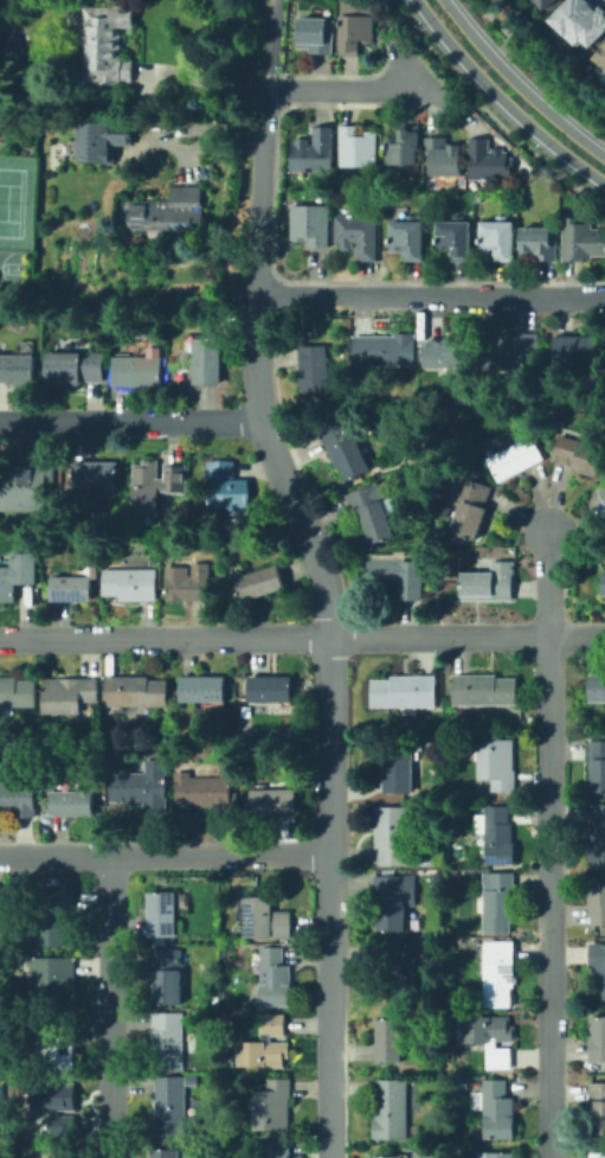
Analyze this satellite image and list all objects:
building: (543, 2)
building: (581, 23)
building: (355, 32)
building: (317, 33)
building: (109, 45)
road: (273, 45)
park: (11, 47)
building: (601, 56)
road: (417, 75)
road: (201, 81)
road: (517, 83)
road: (461, 89)
road: (341, 90)
road: (501, 100)
building: (104, 140)
building: (359, 147)
building: (406, 149)
building: (315, 152)
building: (444, 158)
building: (487, 160)
road: (258, 194)
park: (9, 200)
building: (170, 212)
building: (310, 224)
building: (358, 236)
building: (410, 236)
building: (456, 237)
building: (498, 237)
building: (583, 239)
building: (540, 242)
park: (13, 268)
road: (430, 295)
building: (385, 347)
building: (513, 350)
building: (577, 350)
building: (446, 354)
building: (208, 362)
building: (315, 366)
building: (77, 367)
building: (17, 370)
building: (139, 370)
road: (130, 421)
building: (345, 452)
building: (578, 454)
building: (516, 460)
building: (99, 475)
building: (152, 486)
building: (227, 487)
building: (22, 488)
building: (604, 495)
building: (474, 508)
building: (373, 512)
building: (98, 569)
building: (18, 575)
building: (398, 575)
building: (260, 581)
building: (604, 582)
building: (131, 583)
building: (192, 583)
building: (489, 583)
building: (75, 586)
road: (302, 638)
building: (205, 689)
building: (272, 689)
building: (485, 689)
building: (597, 689)
building: (140, 691)
building: (403, 691)
building: (18, 693)
building: (70, 695)
road: (329, 719)
building: (496, 762)
building: (597, 763)
building: (398, 772)
building: (142, 789)
building: (206, 793)
building: (19, 798)
building: (77, 800)
building: (273, 802)
building: (496, 834)
building: (598, 836)
building: (391, 837)
road: (547, 844)
road: (163, 852)
building: (427, 857)
building: (598, 901)
building: (392, 902)
building: (497, 904)
building: (165, 915)
building: (58, 917)
building: (265, 920)
building: (400, 968)
building: (599, 971)
building: (501, 974)
building: (169, 977)
building: (276, 977)
building: (57, 980)
road: (108, 1005)
building: (490, 1038)
building: (391, 1039)
building: (598, 1039)
building: (172, 1042)
building: (266, 1044)
building: (57, 1048)
building: (194, 1079)
building: (459, 1081)
building: (58, 1106)
building: (597, 1107)
building: (173, 1108)
building: (392, 1108)
building: (272, 1109)
building: (496, 1109)
building: (273, 1150)
building: (167, 1153)
building: (597, 1154)
building: (59, 1156)
building: (497, 1156)
building: (387, 1157)

